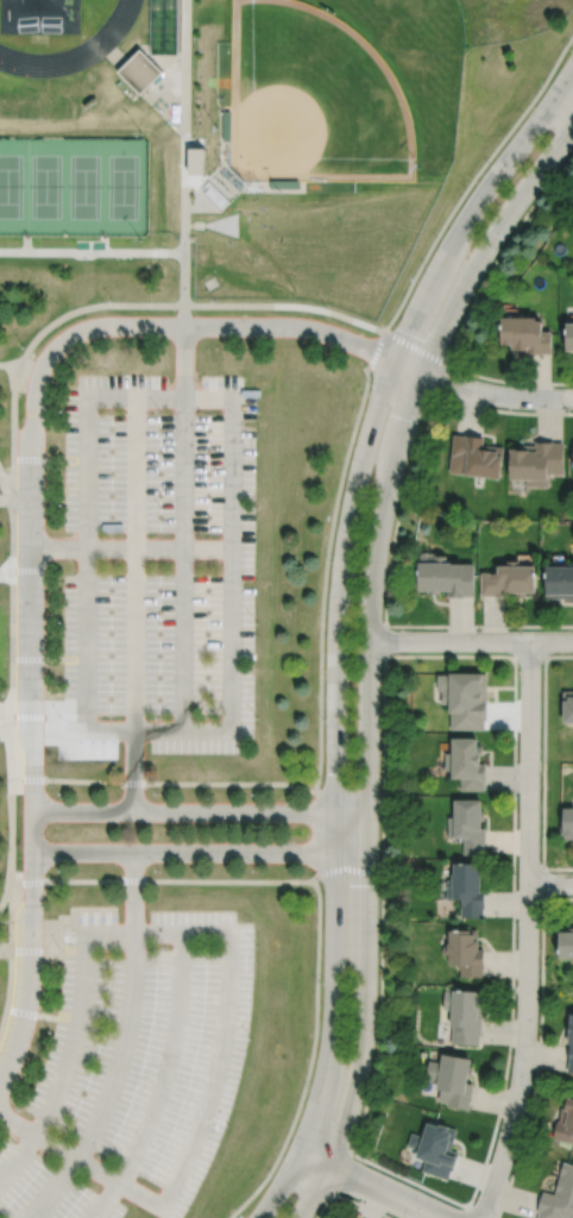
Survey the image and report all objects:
street lamp: (568, 46)
road: (77, 58)
road: (185, 65)
building: (138, 70)
park: (345, 89)
road: (565, 93)
road: (164, 109)
road: (52, 125)
street lamp: (569, 149)
street lamp: (489, 162)
road: (472, 176)
road: (184, 186)
park: (74, 188)
park: (214, 222)
road: (183, 244)
road: (92, 250)
park: (269, 250)
street lamp: (497, 250)
street lamp: (423, 265)
road: (183, 276)
road: (483, 278)
street lamp: (112, 297)
street lamp: (214, 299)
road: (286, 303)
street lamp: (325, 303)
road: (88, 304)
road: (184, 314)
road: (294, 325)
building: (523, 334)
building: (568, 337)
street lamp: (23, 345)
street lamp: (445, 350)
road: (183, 362)
road: (10, 364)
road: (436, 375)
road: (38, 379)
road: (506, 379)
street lamp: (370, 382)
road: (481, 391)
road: (160, 397)
street lamp: (567, 408)
street lamp: (61, 409)
street lamp: (159, 409)
street lamp: (258, 410)
road: (13, 412)
building: (473, 453)
road: (38, 459)
building: (535, 459)
road: (88, 473)
road: (137, 473)
road: (184, 475)
road: (234, 475)
road: (13, 479)
road: (7, 485)
road: (7, 498)
street lamp: (61, 503)
street lamp: (159, 506)
street lamp: (396, 506)
street lamp: (258, 507)
road: (395, 527)
road: (14, 533)
road: (134, 550)
road: (326, 555)
parking lot: (244, 559)
street lamp: (330, 561)
road: (7, 573)
building: (445, 575)
building: (508, 577)
building: (559, 578)
road: (340, 582)
road: (13, 613)
street lamp: (61, 621)
street lamp: (158, 622)
road: (370, 622)
street lamp: (258, 623)
street lamp: (478, 628)
road: (471, 639)
road: (87, 640)
road: (136, 640)
road: (185, 640)
road: (384, 640)
road: (233, 641)
road: (529, 654)
road: (37, 658)
street lamp: (380, 664)
street lamp: (542, 665)
road: (33, 680)
road: (12, 686)
building: (464, 697)
building: (567, 704)
road: (6, 715)
street lamp: (61, 716)
street lamp: (159, 716)
street lamp: (258, 716)
street lamp: (325, 718)
road: (111, 730)
road: (159, 730)
road: (208, 730)
road: (12, 747)
road: (6, 759)
building: (465, 761)
road: (543, 761)
road: (133, 770)
road: (23, 779)
road: (176, 783)
street lamp: (61, 792)
street lamp: (379, 792)
street lamp: (159, 793)
street lamp: (257, 793)
street lamp: (517, 795)
road: (203, 811)
building: (566, 822)
building: (466, 824)
road: (12, 829)
road: (33, 831)
road: (317, 836)
road: (202, 852)
street lamp: (159, 869)
street lamp: (257, 869)
street lamp: (58, 871)
street lamp: (549, 871)
road: (23, 880)
road: (172, 880)
street lamp: (317, 880)
road: (542, 881)
road: (550, 883)
building: (465, 887)
road: (136, 892)
road: (6, 897)
road: (12, 915)
street lamp: (378, 922)
street lamp: (515, 922)
road: (111, 931)
road: (208, 933)
road: (511, 933)
road: (527, 933)
building: (565, 942)
street lamp: (165, 946)
street lamp: (258, 946)
street lamp: (61, 947)
road: (6, 949)
road: (37, 949)
building: (462, 952)
road: (32, 971)
road: (11, 979)
street lamp: (322, 980)
road: (32, 1012)
building: (462, 1015)
road: (4, 1023)
road: (127, 1026)
street lamp: (49, 1032)
road: (76, 1036)
street lamp: (251, 1038)
parking lot: (150, 1041)
building: (569, 1043)
road: (539, 1044)
street lamp: (511, 1055)
road: (310, 1061)
road: (169, 1062)
road: (216, 1074)
building: (451, 1080)
street lamp: (309, 1088)
street lamp: (20, 1109)
building: (565, 1123)
street lamp: (228, 1125)
street lamp: (350, 1142)
building: (434, 1149)
road: (19, 1156)
street lamp: (101, 1157)
road: (80, 1160)
road: (339, 1173)
street lamp: (272, 1175)
road: (369, 1185)
road: (279, 1186)
parking lot: (46, 1188)
road: (55, 1189)
road: (313, 1192)
building: (558, 1197)
road: (347, 1198)
road: (107, 1200)
street lamp: (191, 1208)
road: (478, 1212)
street lamp: (495, 1217)

